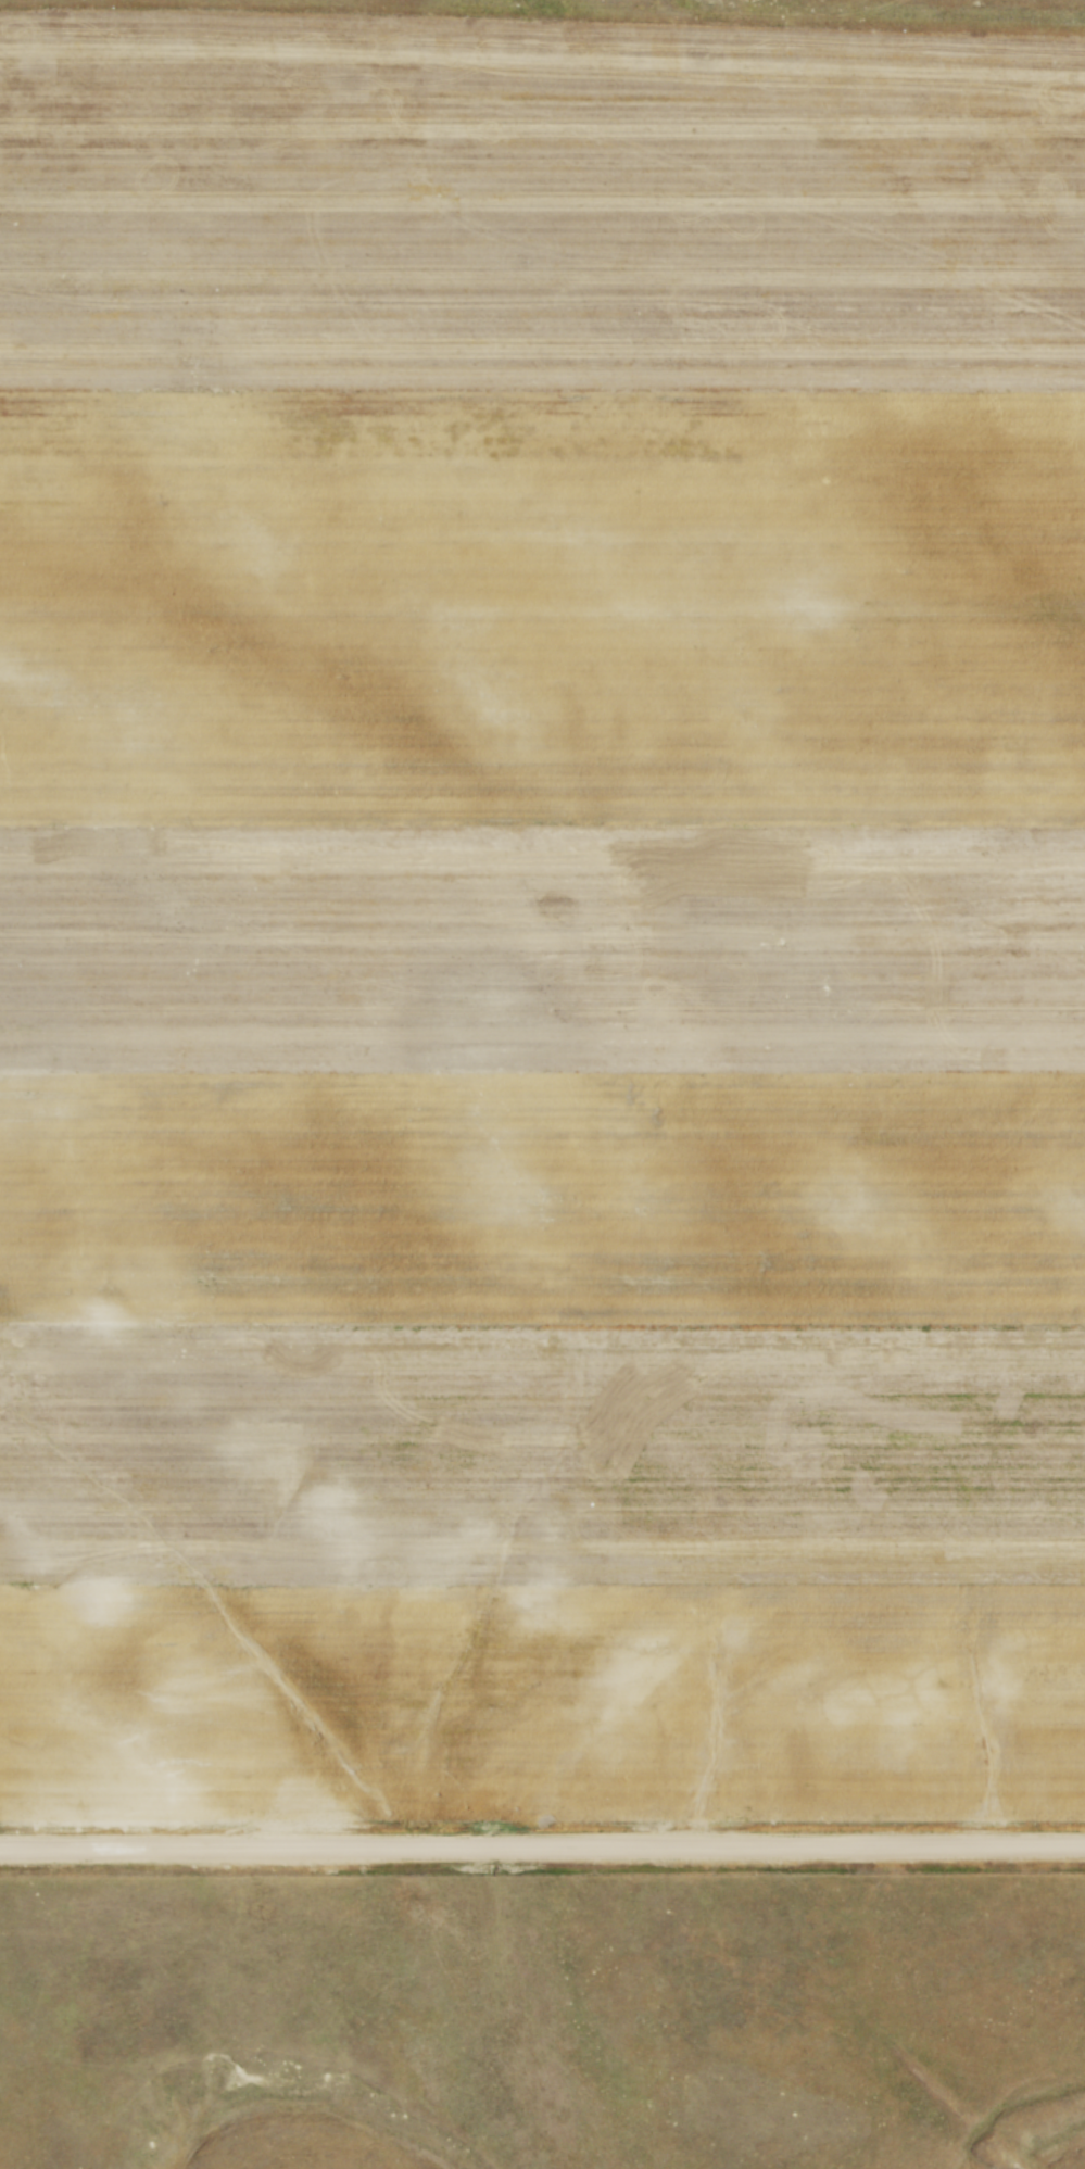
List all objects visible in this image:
crop: (540, 928)
road: (542, 1852)

